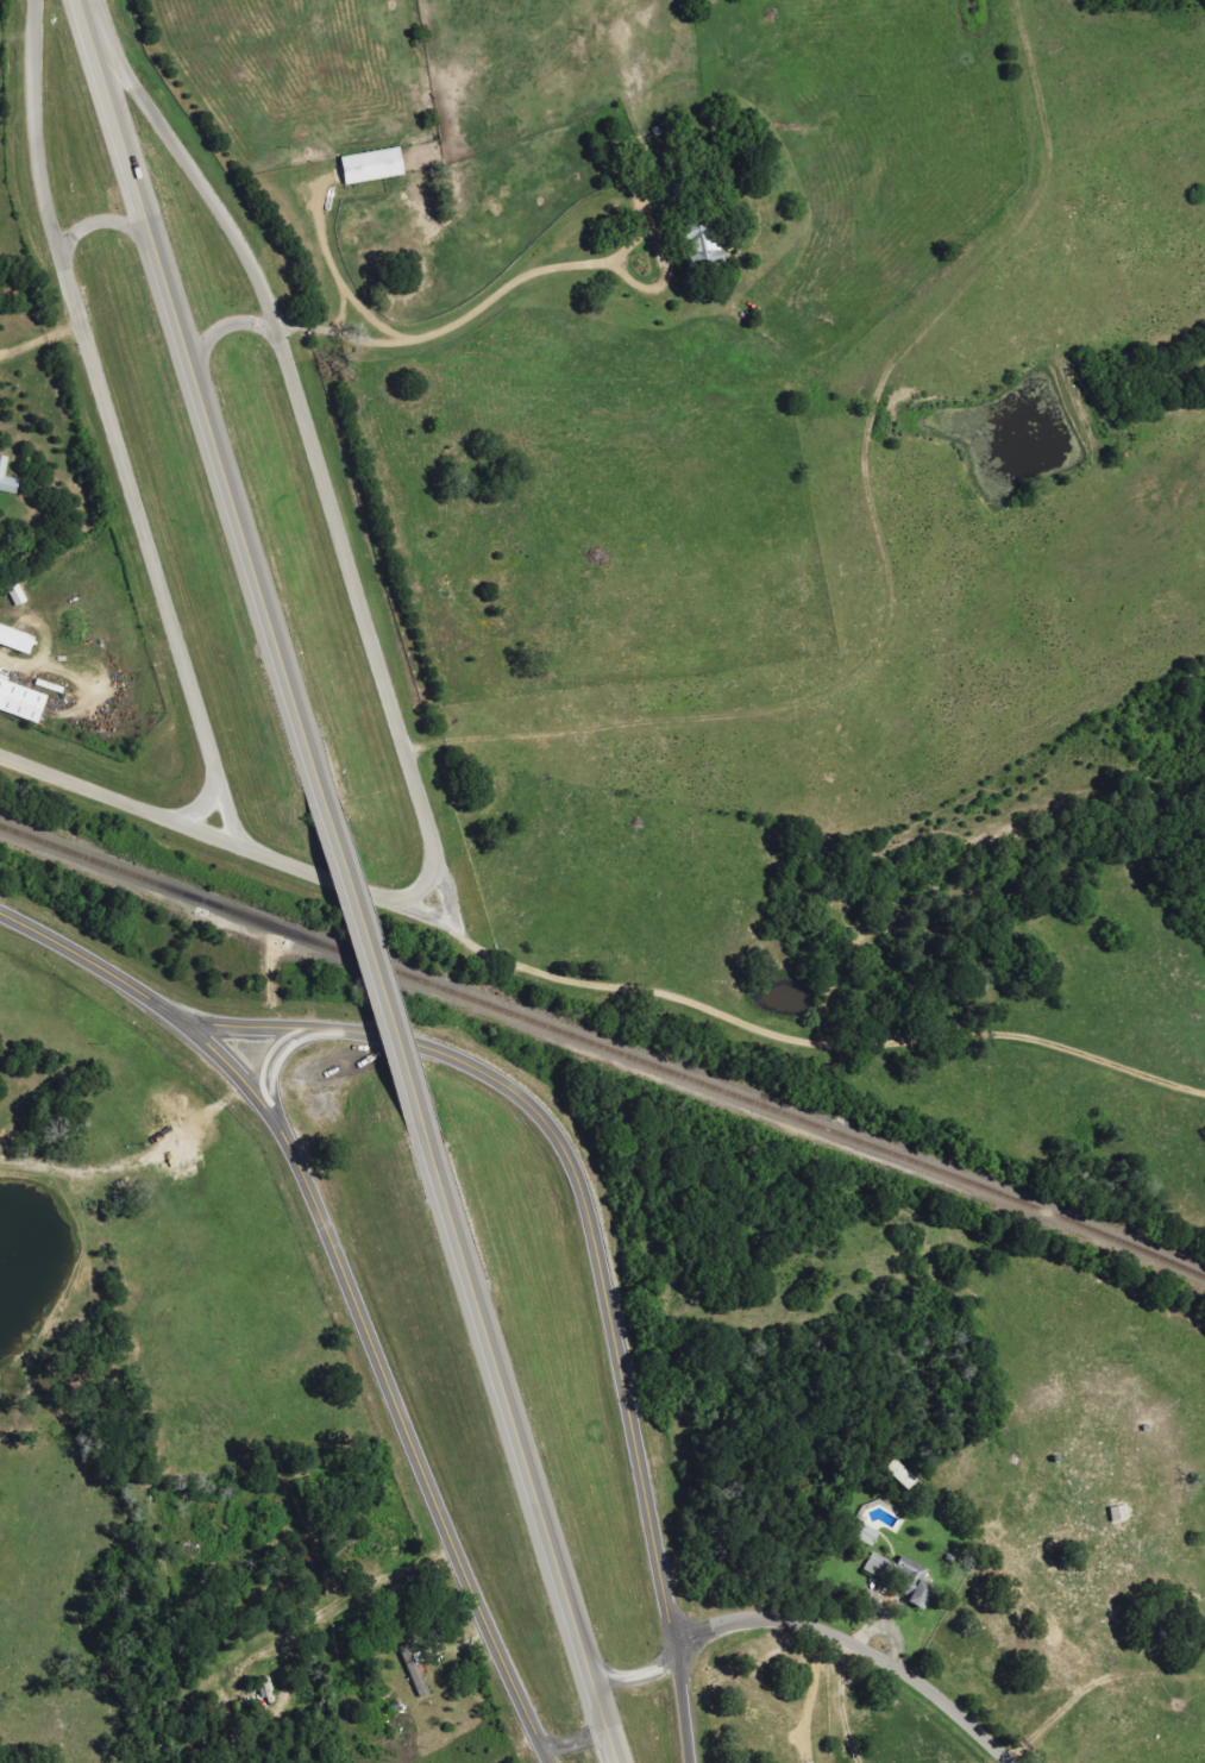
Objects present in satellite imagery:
road: (33, 128)
building: (375, 167)
road: (196, 174)
road: (98, 222)
building: (697, 227)
road: (30, 251)
park: (381, 274)
road: (477, 309)
road: (227, 328)
road: (203, 393)
building: (7, 478)
road: (874, 541)
road: (152, 550)
building: (17, 639)
building: (23, 702)
road: (387, 703)
road: (207, 785)
road: (118, 802)
road: (371, 949)
road: (98, 966)
road: (797, 1033)
railway: (603, 1048)
road: (285, 1053)
road: (591, 1191)
road: (383, 1372)
road: (523, 1436)
building: (902, 1474)
building: (868, 1535)
building: (881, 1567)
building: (918, 1581)
road: (855, 1645)
building: (418, 1670)
road: (636, 1677)
road: (809, 1692)
road: (682, 1708)
road: (579, 1739)
road: (550, 1752)

